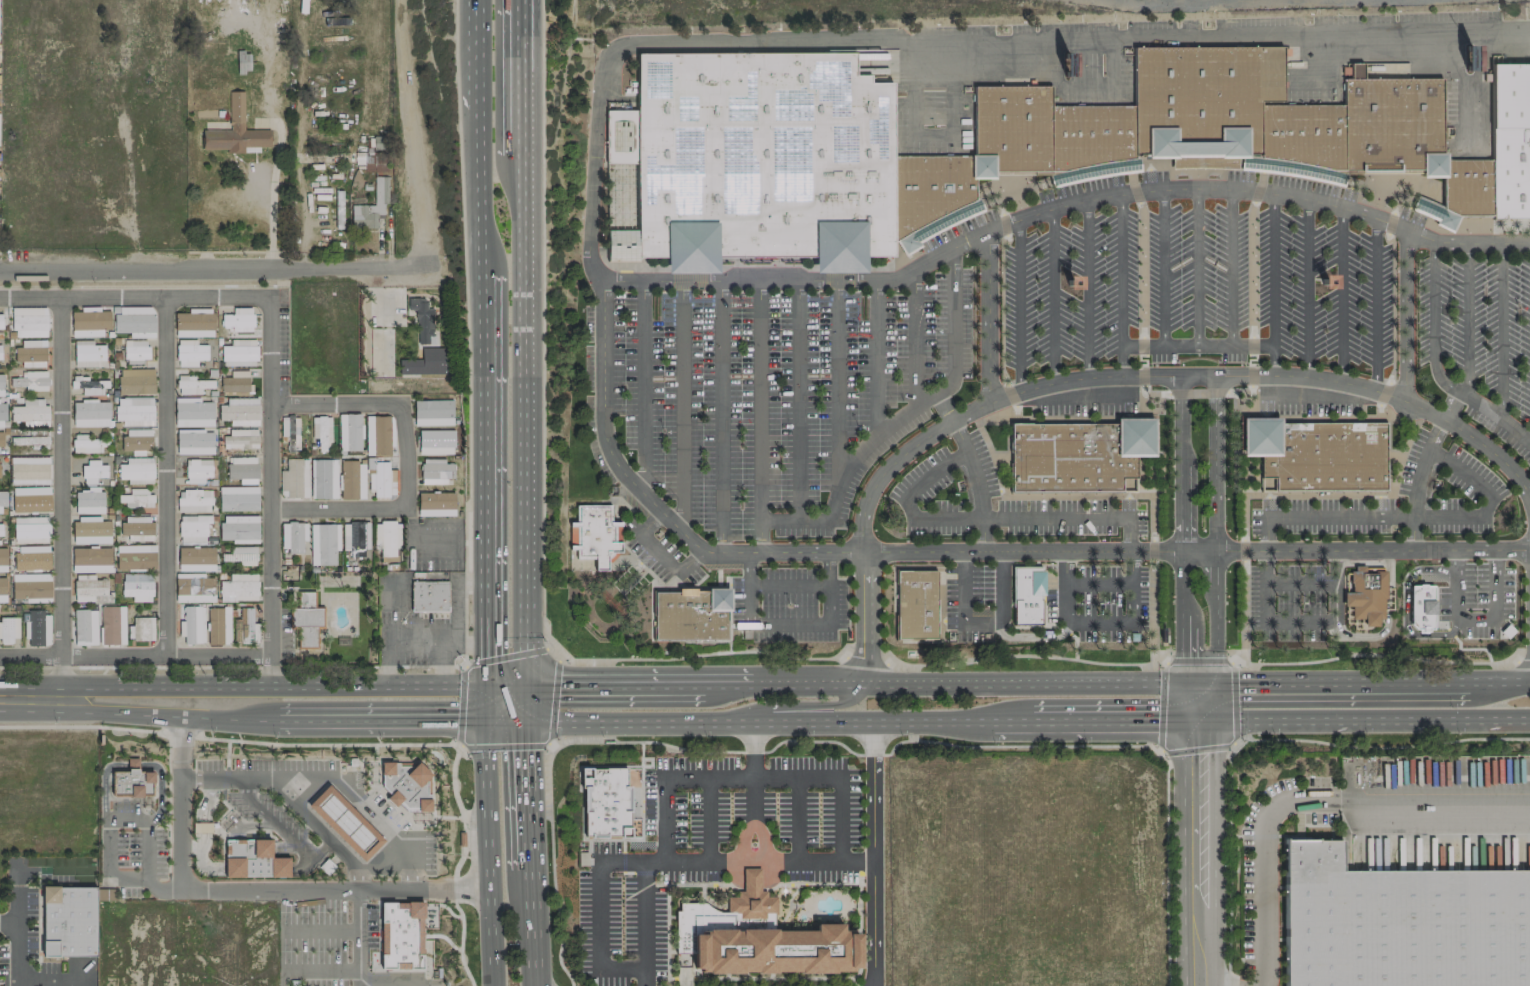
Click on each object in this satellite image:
road: (952, 38)
road: (475, 54)
building: (203, 75)
road: (521, 77)
road: (407, 133)
building: (1195, 135)
building: (1511, 138)
building: (373, 156)
building: (757, 158)
road: (1207, 188)
road: (476, 191)
building: (617, 193)
building: (372, 205)
road: (1197, 266)
road: (1231, 266)
road: (1162, 267)
road: (213, 268)
road: (1141, 280)
road: (746, 281)
road: (1273, 283)
road: (1121, 284)
road: (1307, 287)
road: (1087, 288)
parking lot: (1194, 290)
road: (1341, 294)
road: (1053, 295)
road: (1018, 304)
road: (1375, 304)
road: (1404, 315)
road: (987, 316)
building: (238, 319)
building: (422, 320)
road: (1466, 320)
building: (1, 321)
building: (135, 321)
building: (29, 322)
building: (89, 322)
building: (194, 323)
road: (1501, 331)
road: (1252, 335)
road: (914, 338)
parking lot: (1479, 338)
road: (269, 341)
road: (1196, 345)
building: (135, 351)
building: (0, 352)
building: (190, 352)
building: (240, 352)
building: (31, 353)
building: (88, 354)
road: (875, 359)
road: (1432, 364)
building: (0, 381)
building: (28, 381)
building: (135, 381)
building: (235, 381)
building: (88, 384)
building: (191, 385)
road: (642, 386)
road: (837, 386)
parking lot: (766, 395)
road: (1390, 395)
road: (759, 400)
road: (797, 400)
road: (681, 406)
road: (1450, 406)
road: (943, 408)
building: (134, 410)
building: (239, 411)
building: (30, 412)
building: (91, 412)
building: (192, 412)
building: (433, 412)
building: (2, 413)
road: (720, 416)
road: (523, 420)
road: (886, 425)
building: (289, 428)
road: (939, 428)
building: (322, 432)
building: (349, 432)
road: (1436, 434)
building: (378, 435)
building: (241, 438)
building: (30, 439)
building: (136, 439)
building: (0, 442)
building: (195, 442)
building: (436, 442)
building: (87, 443)
building: (1317, 453)
building: (1077, 454)
road: (407, 458)
building: (243, 469)
building: (29, 470)
building: (137, 470)
building: (197, 470)
building: (92, 471)
building: (436, 471)
road: (542, 475)
road: (167, 476)
building: (294, 478)
building: (323, 478)
building: (382, 479)
building: (352, 480)
road: (484, 480)
road: (1417, 481)
road: (974, 483)
road: (1380, 493)
road: (1018, 494)
building: (3, 497)
building: (238, 497)
building: (136, 498)
building: (30, 499)
parking lot: (995, 499)
building: (89, 500)
building: (194, 500)
parking lot: (1395, 500)
road: (907, 501)
building: (436, 503)
road: (61, 505)
road: (1425, 515)
road: (1067, 518)
building: (137, 527)
building: (0, 528)
building: (238, 528)
building: (30, 529)
building: (90, 529)
building: (193, 529)
road: (1183, 530)
road: (1216, 530)
road: (1266, 533)
road: (1413, 533)
building: (595, 534)
building: (293, 536)
building: (355, 538)
building: (388, 540)
building: (324, 543)
road: (416, 545)
road: (961, 550)
parking lot: (659, 551)
road: (662, 551)
building: (240, 555)
building: (32, 556)
building: (135, 556)
building: (195, 558)
building: (2, 559)
building: (90, 559)
road: (1495, 559)
road: (1455, 560)
road: (1065, 582)
road: (1300, 582)
road: (1098, 583)
road: (1132, 584)
road: (1334, 584)
road: (787, 585)
road: (1003, 585)
road: (1266, 585)
building: (137, 586)
building: (30, 587)
building: (88, 587)
building: (194, 588)
building: (238, 588)
building: (2, 590)
building: (1366, 594)
building: (1026, 595)
building: (430, 596)
parking lot: (1476, 598)
parking lot: (1102, 599)
parking lot: (1285, 599)
parking lot: (968, 601)
parking lot: (788, 604)
building: (915, 604)
road: (965, 604)
building: (1420, 606)
road: (1406, 608)
road: (454, 611)
road: (730, 613)
building: (690, 614)
road: (1099, 618)
building: (306, 619)
road: (1300, 619)
road: (1474, 619)
road: (788, 620)
road: (1385, 621)
building: (193, 624)
building: (111, 625)
building: (36, 626)
building: (84, 626)
building: (218, 626)
building: (245, 627)
building: (142, 628)
building: (8, 629)
road: (1033, 636)
road: (402, 643)
road: (135, 654)
road: (1230, 660)
road: (437, 664)
road: (271, 670)
road: (807, 681)
road: (728, 685)
traffic signals: (486, 686)
road: (615, 686)
traffic signals: (1183, 686)
road: (1197, 686)
traffic signals: (1218, 686)
road: (506, 687)
road: (243, 688)
traffic signals: (526, 688)
road: (1192, 703)
road: (1210, 703)
road: (485, 704)
road: (526, 704)
road: (810, 705)
road: (242, 717)
road: (1366, 719)
traffic signals: (527, 720)
road: (506, 721)
road: (864, 721)
traffic signals: (1202, 721)
traffic signals: (485, 722)
road: (49, 726)
road: (908, 739)
road: (605, 740)
road: (279, 743)
road: (461, 748)
road: (227, 752)
road: (396, 760)
road: (134, 764)
road: (168, 766)
road: (598, 766)
road: (331, 777)
road: (225, 778)
building: (132, 781)
road: (453, 782)
building: (407, 784)
road: (839, 791)
road: (753, 793)
road: (529, 794)
road: (131, 798)
road: (1313, 800)
building: (606, 802)
road: (139, 806)
road: (225, 813)
road: (157, 817)
road: (446, 817)
road: (707, 817)
road: (797, 817)
road: (664, 819)
building: (345, 822)
road: (249, 823)
road: (129, 824)
road: (321, 831)
road: (281, 832)
road: (168, 834)
road: (235, 834)
road: (640, 834)
road: (258, 835)
road: (744, 835)
road: (761, 835)
parking lot: (710, 850)
road: (873, 853)
road: (1202, 853)
road: (487, 854)
road: (622, 854)
building: (253, 859)
road: (751, 860)
road: (29, 863)
road: (211, 867)
road: (384, 867)
road: (551, 868)
road: (628, 871)
road: (645, 871)
road: (713, 877)
road: (684, 883)
road: (703, 883)
road: (778, 883)
road: (813, 883)
road: (248, 890)
road: (808, 907)
road: (598, 915)
road: (373, 917)
road: (461, 919)
building: (69, 921)
building: (1400, 924)
road: (532, 927)
road: (859, 927)
road: (322, 930)
building: (401, 935)
road: (378, 937)
road: (360, 938)
building: (756, 938)
road: (16, 942)
road: (459, 949)
road: (313, 970)
road: (401, 970)
road: (369, 972)
road: (698, 977)
road: (848, 978)
road: (396, 979)

